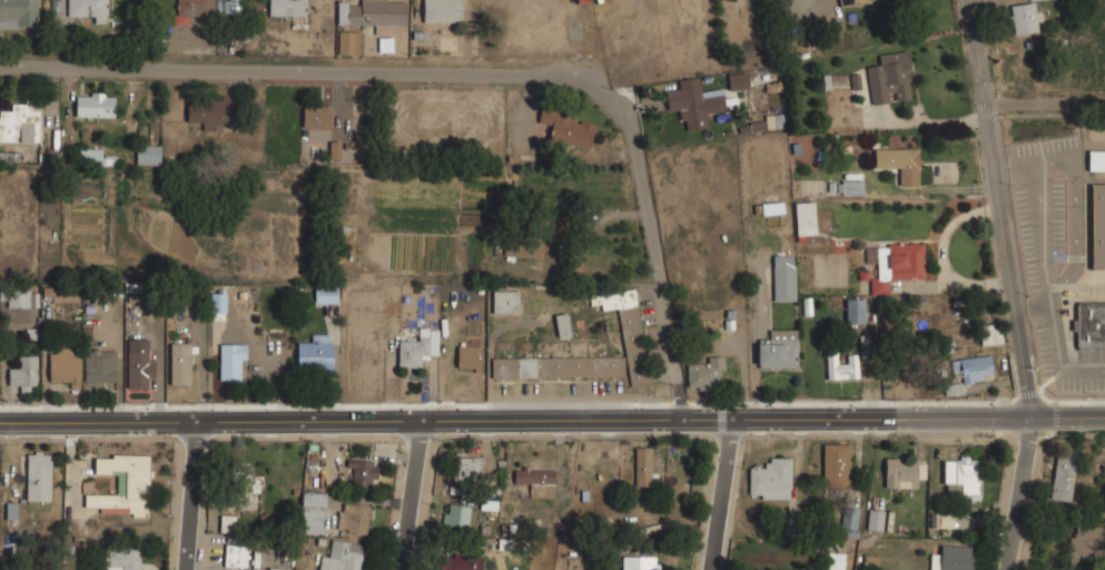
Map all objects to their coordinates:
building: (1030, 0)
building: (857, 2)
building: (286, 8)
building: (190, 9)
building: (87, 10)
building: (441, 11)
building: (18, 13)
building: (373, 14)
building: (555, 19)
building: (1023, 19)
building: (345, 42)
road: (432, 76)
building: (889, 79)
building: (738, 82)
road: (1043, 100)
building: (687, 104)
building: (93, 105)
building: (210, 110)
building: (316, 116)
building: (20, 124)
building: (570, 131)
building: (147, 155)
building: (90, 156)
building: (1096, 160)
building: (906, 166)
building: (851, 187)
building: (772, 208)
road: (997, 208)
road: (1073, 213)
building: (803, 219)
building: (1097, 227)
road: (1040, 230)
building: (523, 248)
parking lot: (1049, 255)
building: (894, 265)
building: (783, 277)
building: (325, 295)
building: (18, 298)
building: (504, 302)
building: (217, 304)
building: (854, 311)
building: (1089, 325)
building: (561, 326)
building: (631, 333)
building: (989, 335)
building: (416, 350)
building: (778, 350)
building: (864, 350)
building: (315, 354)
road: (1057, 354)
building: (468, 358)
building: (231, 362)
building: (179, 364)
building: (63, 366)
building: (100, 366)
building: (840, 367)
building: (975, 368)
building: (139, 370)
road: (678, 373)
building: (702, 373)
building: (22, 374)
road: (552, 420)
building: (643, 466)
building: (836, 466)
building: (466, 469)
building: (900, 473)
building: (38, 475)
building: (363, 475)
building: (1063, 476)
building: (958, 478)
building: (535, 479)
building: (769, 480)
building: (122, 484)
building: (240, 484)
road: (1016, 493)
road: (718, 494)
road: (188, 495)
road: (416, 495)
building: (487, 501)
building: (312, 513)
building: (456, 517)
building: (353, 518)
building: (849, 518)
building: (875, 520)
building: (941, 520)
building: (227, 524)
building: (1085, 540)
building: (235, 557)
building: (342, 557)
building: (124, 558)
building: (953, 558)
building: (833, 561)
building: (460, 563)
building: (638, 563)
building: (277, 569)

